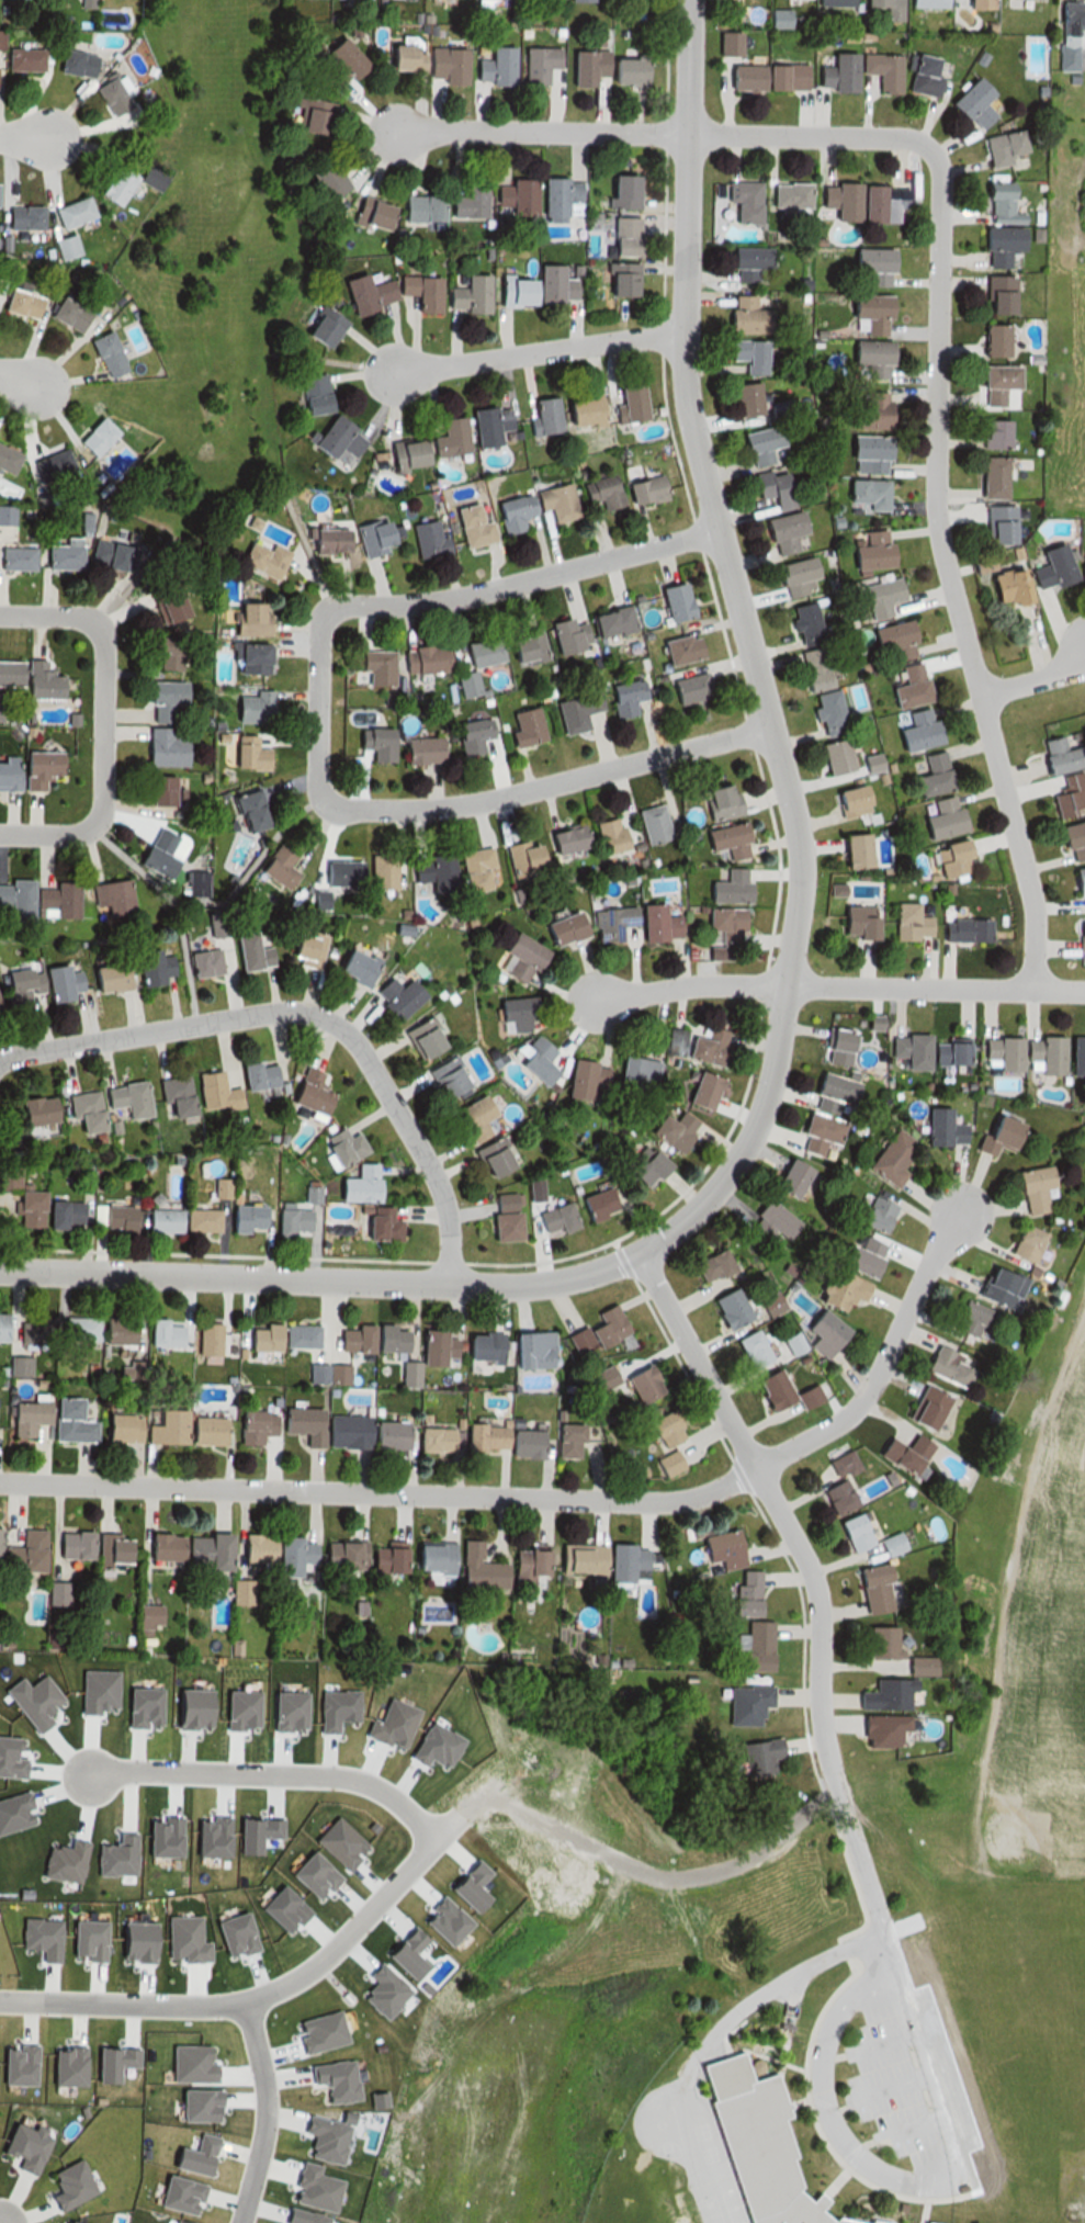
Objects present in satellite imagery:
building: (584, 0)
building: (630, 2)
building: (972, 2)
building: (828, 3)
building: (922, 3)
building: (880, 8)
building: (776, 20)
building: (0, 40)
building: (1070, 40)
building: (726, 44)
building: (396, 56)
building: (21, 59)
building: (70, 63)
building: (332, 63)
building: (531, 63)
building: (439, 64)
building: (580, 65)
building: (488, 66)
building: (622, 68)
building: (874, 70)
building: (830, 72)
building: (778, 77)
building: (917, 77)
building: (739, 78)
building: (105, 97)
building: (973, 104)
building: (303, 115)
building: (998, 148)
building: (144, 177)
building: (320, 180)
building: (622, 191)
building: (510, 195)
building: (783, 195)
building: (556, 196)
building: (464, 200)
building: (738, 200)
building: (859, 201)
building: (419, 207)
building: (372, 213)
building: (67, 214)
building: (16, 217)
building: (619, 236)
building: (59, 248)
building: (741, 261)
building: (870, 264)
building: (615, 278)
building: (547, 283)
building: (509, 290)
building: (415, 291)
building: (360, 293)
building: (463, 293)
building: (993, 294)
building: (15, 302)
building: (868, 313)
building: (64, 314)
building: (738, 314)
building: (317, 327)
building: (987, 340)
building: (100, 354)
building: (743, 354)
building: (867, 357)
building: (990, 382)
building: (307, 392)
building: (742, 398)
building: (625, 403)
building: (578, 410)
building: (864, 410)
building: (541, 415)
building: (482, 425)
building: (986, 432)
building: (332, 437)
building: (91, 438)
building: (447, 438)
building: (756, 445)
building: (863, 452)
building: (404, 454)
building: (3, 458)
building: (45, 465)
building: (985, 477)
building: (642, 489)
building: (768, 490)
building: (608, 492)
building: (861, 494)
building: (541, 506)
building: (2, 515)
building: (992, 524)
building: (471, 526)
building: (778, 533)
building: (380, 535)
building: (429, 539)
building: (330, 540)
building: (864, 551)
building: (111, 552)
building: (61, 553)
building: (14, 557)
building: (259, 560)
building: (1061, 567)
building: (789, 578)
building: (1013, 585)
building: (874, 599)
building: (161, 601)
building: (669, 603)
building: (244, 619)
building: (604, 624)
building: (799, 625)
building: (561, 636)
building: (888, 643)
building: (520, 647)
building: (674, 651)
building: (475, 652)
building: (160, 653)
building: (245, 657)
building: (370, 667)
building: (810, 670)
building: (7, 672)
building: (34, 680)
building: (459, 685)
building: (906, 688)
building: (683, 690)
building: (157, 698)
building: (619, 698)
building: (246, 707)
building: (569, 711)
building: (829, 713)
building: (518, 727)
building: (924, 730)
building: (465, 736)
building: (370, 742)
building: (157, 747)
building: (415, 748)
building: (241, 753)
building: (1064, 756)
building: (832, 757)
building: (33, 767)
building: (4, 774)
building: (941, 774)
building: (152, 788)
building: (1071, 797)
building: (713, 802)
building: (846, 802)
building: (242, 811)
building: (943, 820)
building: (646, 824)
building: (604, 836)
building: (563, 839)
building: (722, 842)
building: (1072, 842)
building: (152, 850)
building: (849, 850)
building: (520, 857)
building: (950, 860)
building: (271, 868)
building: (473, 869)
building: (335, 871)
building: (374, 871)
building: (430, 871)
building: (189, 883)
building: (1078, 887)
building: (723, 888)
building: (105, 895)
building: (12, 898)
building: (49, 899)
building: (312, 899)
building: (609, 922)
building: (652, 923)
building: (719, 923)
building: (851, 923)
building: (210, 924)
building: (903, 924)
building: (564, 927)
building: (971, 930)
building: (1080, 935)
building: (298, 947)
building: (244, 952)
building: (523, 959)
building: (199, 962)
building: (148, 966)
building: (349, 967)
building: (103, 977)
building: (55, 981)
building: (14, 985)
building: (393, 995)
building: (519, 1014)
building: (417, 1038)
building: (829, 1047)
building: (903, 1050)
building: (996, 1051)
building: (943, 1053)
building: (1041, 1054)
building: (1074, 1056)
building: (543, 1060)
building: (636, 1074)
building: (252, 1075)
building: (589, 1076)
building: (443, 1077)
building: (211, 1091)
building: (307, 1091)
building: (702, 1091)
building: (826, 1092)
building: (170, 1094)
building: (122, 1098)
building: (31, 1109)
building: (80, 1111)
building: (472, 1120)
building: (936, 1128)
building: (676, 1129)
building: (814, 1133)
building: (341, 1146)
building: (497, 1159)
building: (892, 1159)
building: (648, 1164)
building: (7, 1176)
building: (360, 1183)
building: (219, 1187)
building: (1028, 1189)
building: (594, 1205)
building: (22, 1206)
building: (57, 1212)
building: (112, 1216)
building: (241, 1216)
building: (502, 1216)
building: (884, 1216)
building: (177, 1219)
building: (285, 1219)
building: (553, 1219)
building: (771, 1221)
building: (375, 1223)
building: (1024, 1249)
building: (870, 1259)
building: (712, 1266)
building: (1003, 1286)
building: (773, 1306)
building: (735, 1308)
building: (979, 1312)
building: (71, 1328)
building: (26, 1330)
building: (110, 1330)
building: (600, 1331)
building: (830, 1331)
building: (157, 1332)
building: (294, 1334)
building: (201, 1336)
building: (256, 1336)
building: (383, 1336)
building: (347, 1338)
building: (799, 1343)
building: (431, 1345)
building: (478, 1345)
building: (532, 1346)
building: (758, 1350)
building: (12, 1365)
building: (320, 1373)
building: (403, 1373)
building: (607, 1378)
building: (647, 1383)
building: (788, 1391)
building: (923, 1408)
building: (26, 1415)
building: (67, 1421)
building: (296, 1423)
building: (249, 1425)
building: (143, 1426)
building: (674, 1428)
building: (202, 1429)
building: (340, 1431)
building: (383, 1433)
building: (478, 1435)
building: (428, 1438)
building: (561, 1438)
building: (519, 1441)
building: (902, 1455)
building: (837, 1465)
building: (833, 1499)
building: (848, 1533)
building: (69, 1544)
building: (160, 1545)
building: (252, 1546)
building: (885, 1546)
building: (108, 1547)
building: (203, 1548)
building: (716, 1550)
building: (21, 1551)
building: (339, 1551)
building: (290, 1554)
building: (427, 1556)
building: (383, 1557)
building: (574, 1557)
building: (521, 1560)
building: (619, 1561)
building: (473, 1567)
building: (867, 1589)
building: (239, 1591)
building: (52, 1592)
building: (738, 1593)
building: (873, 1641)
building: (748, 1646)
building: (914, 1666)
building: (880, 1694)
building: (739, 1704)
building: (875, 1728)
building: (755, 1757)
building: (750, 2144)

